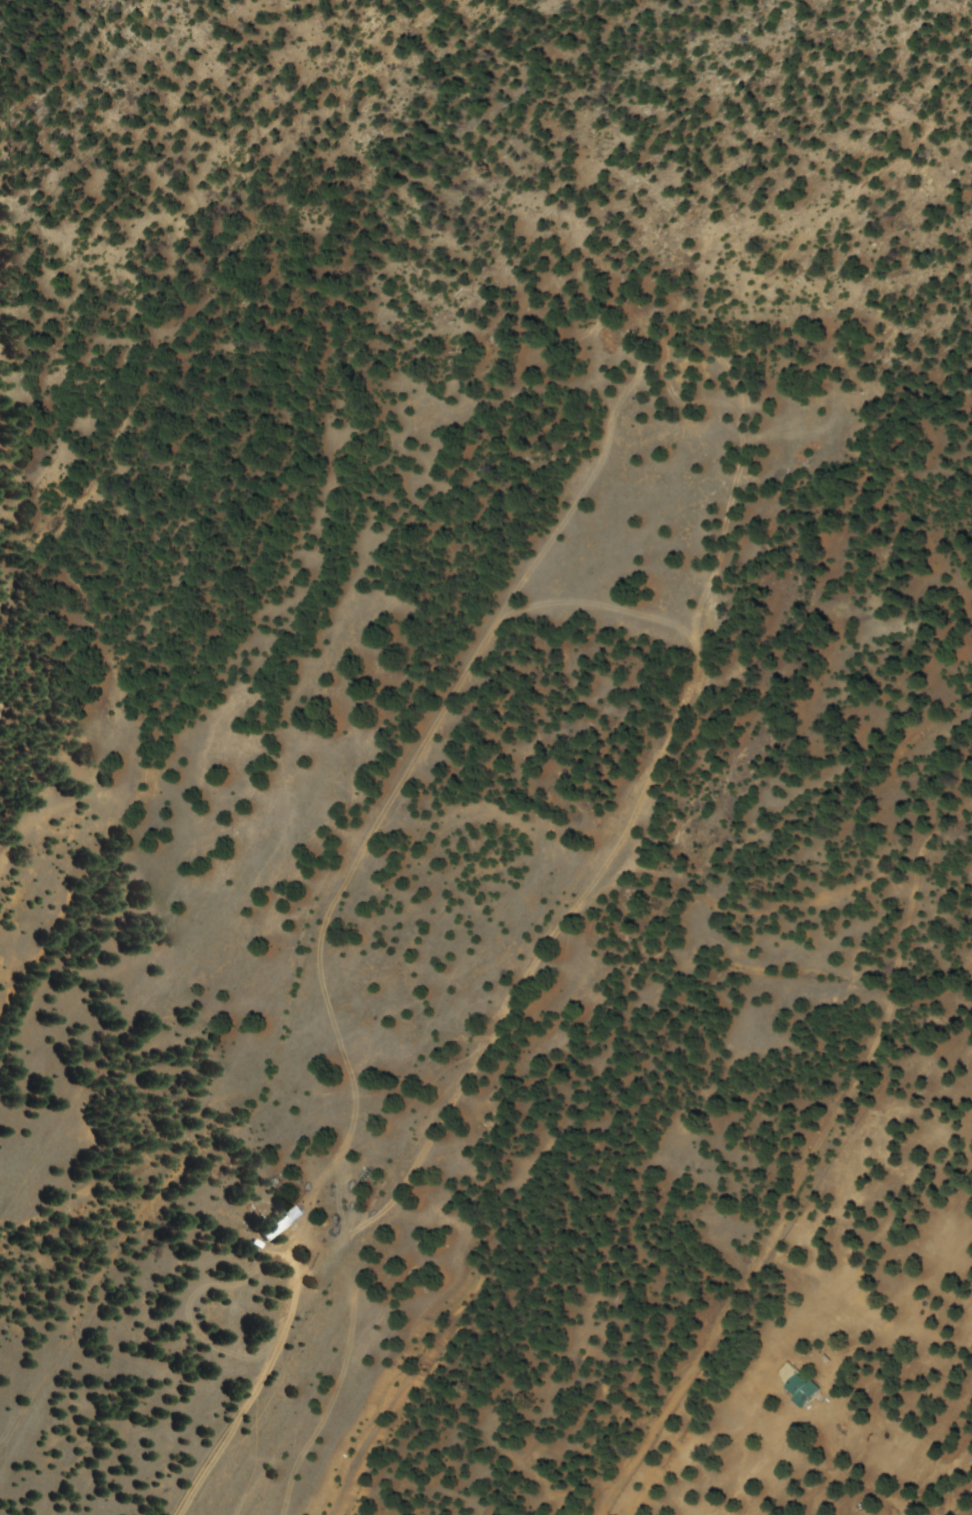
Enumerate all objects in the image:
building: (278, 1223)
building: (795, 1384)

